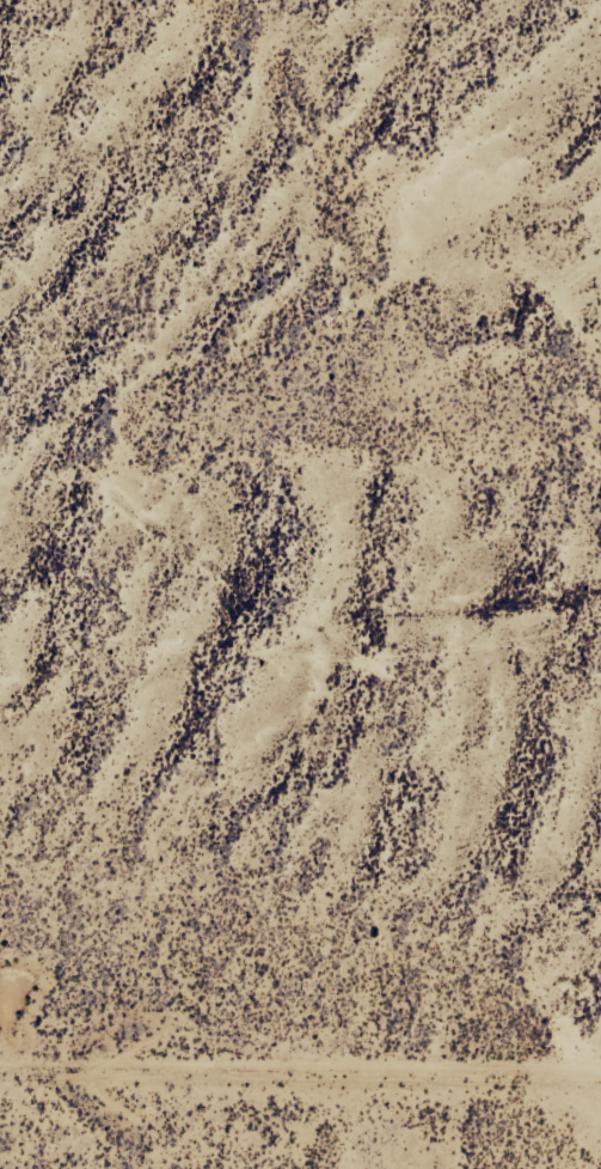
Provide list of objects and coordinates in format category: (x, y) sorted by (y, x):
road: (300, 1122)

